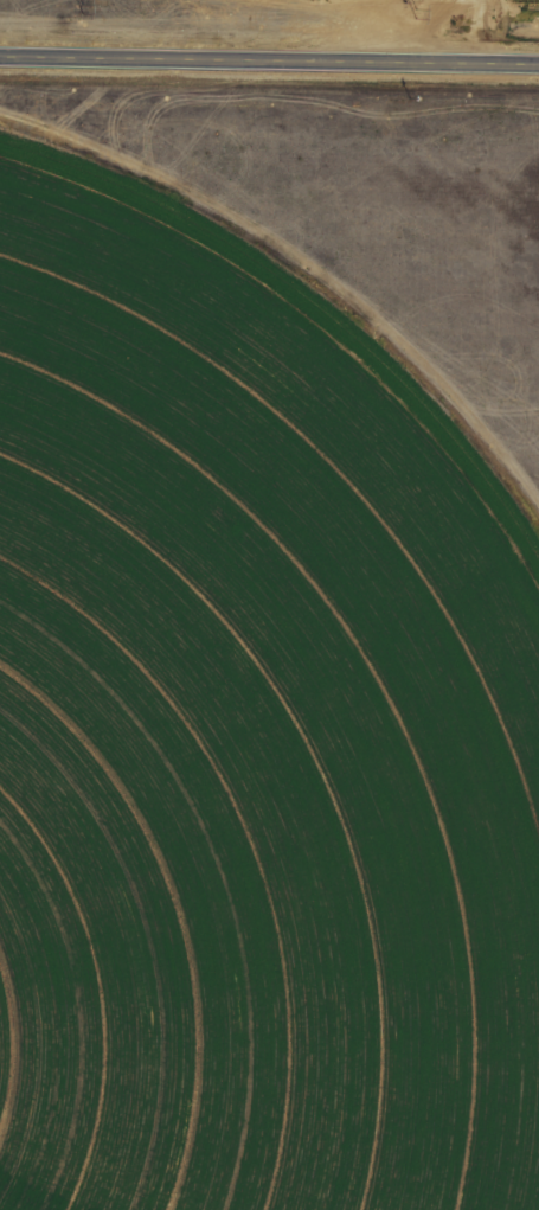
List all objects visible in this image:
road: (269, 60)

